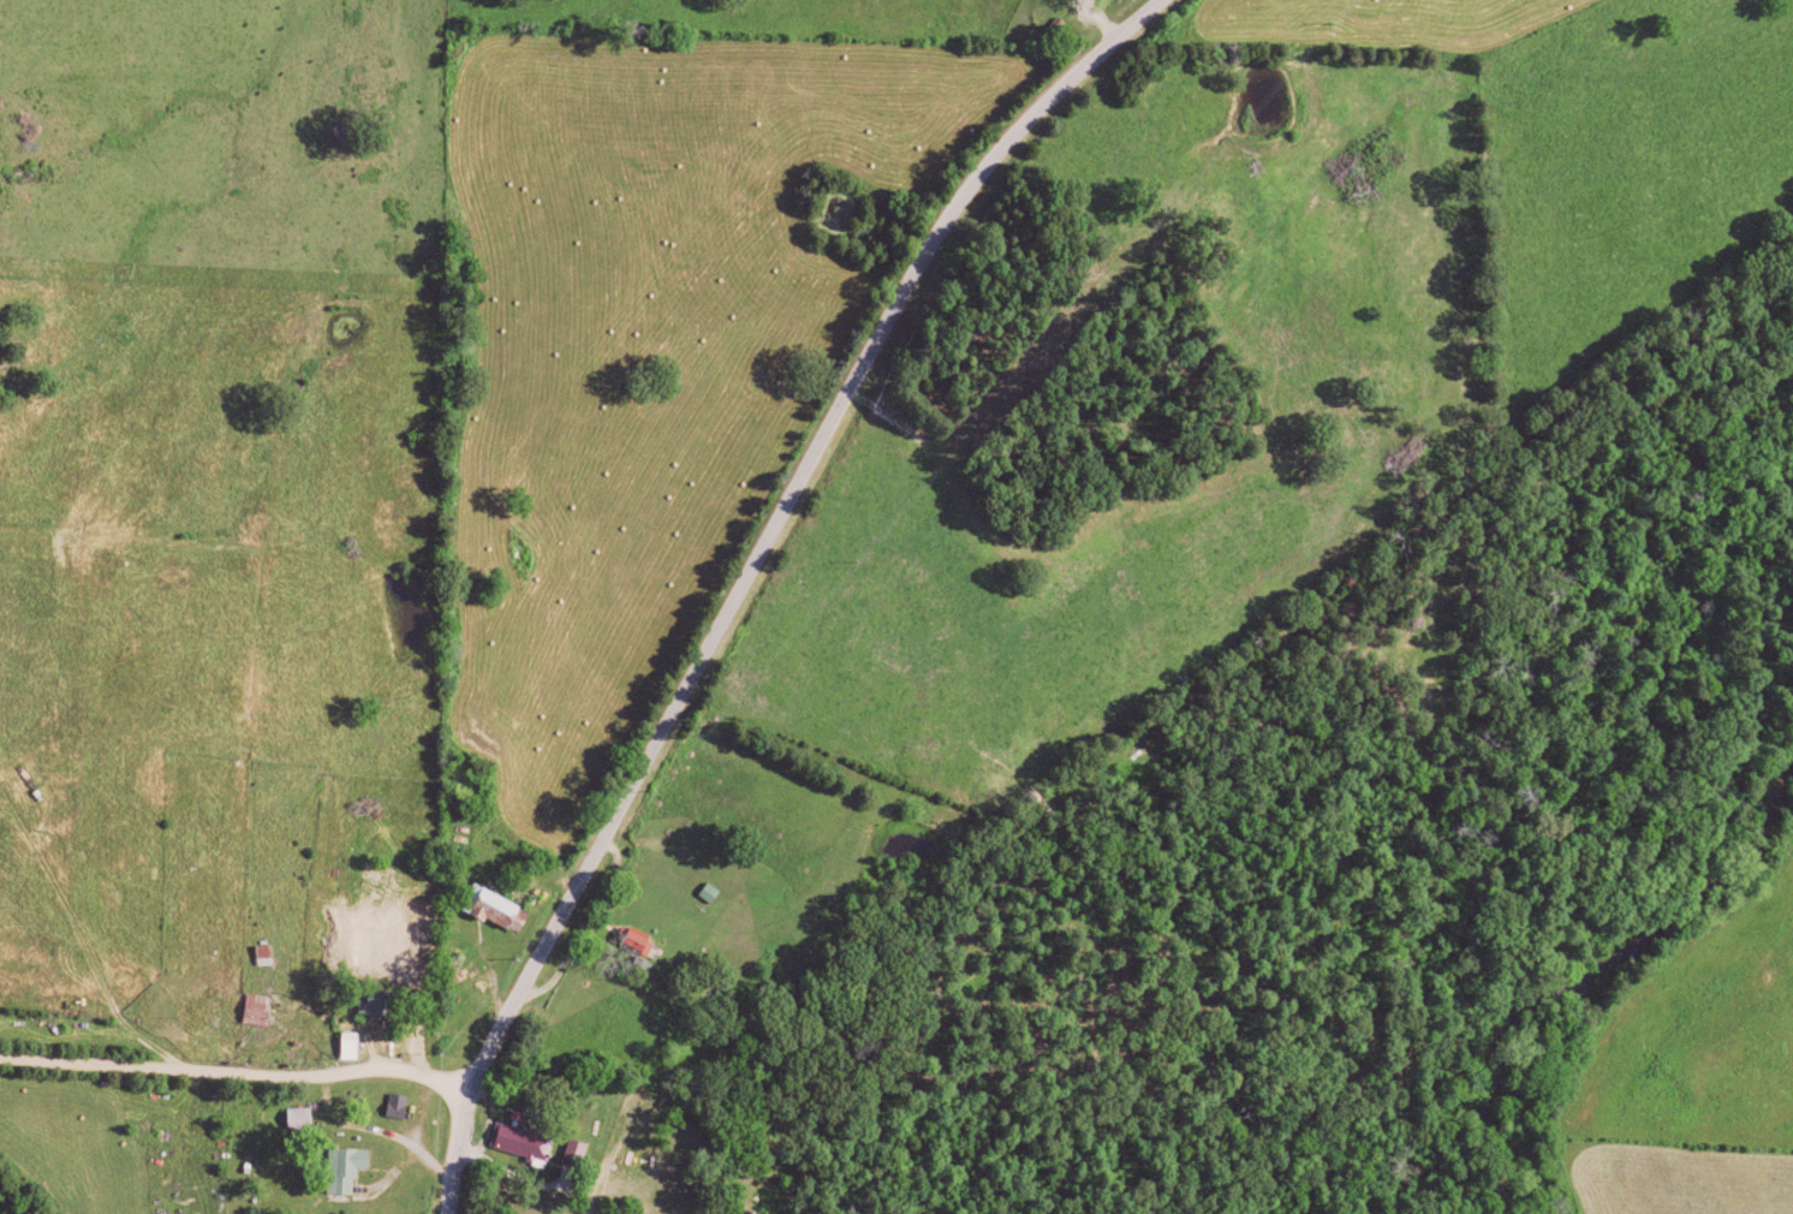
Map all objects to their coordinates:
road: (1095, 20)
road: (747, 575)
building: (495, 904)
building: (643, 940)
building: (382, 1006)
building: (262, 1007)
building: (355, 1045)
road: (233, 1073)
road: (329, 1117)
building: (529, 1141)
road: (473, 1156)
building: (350, 1167)

